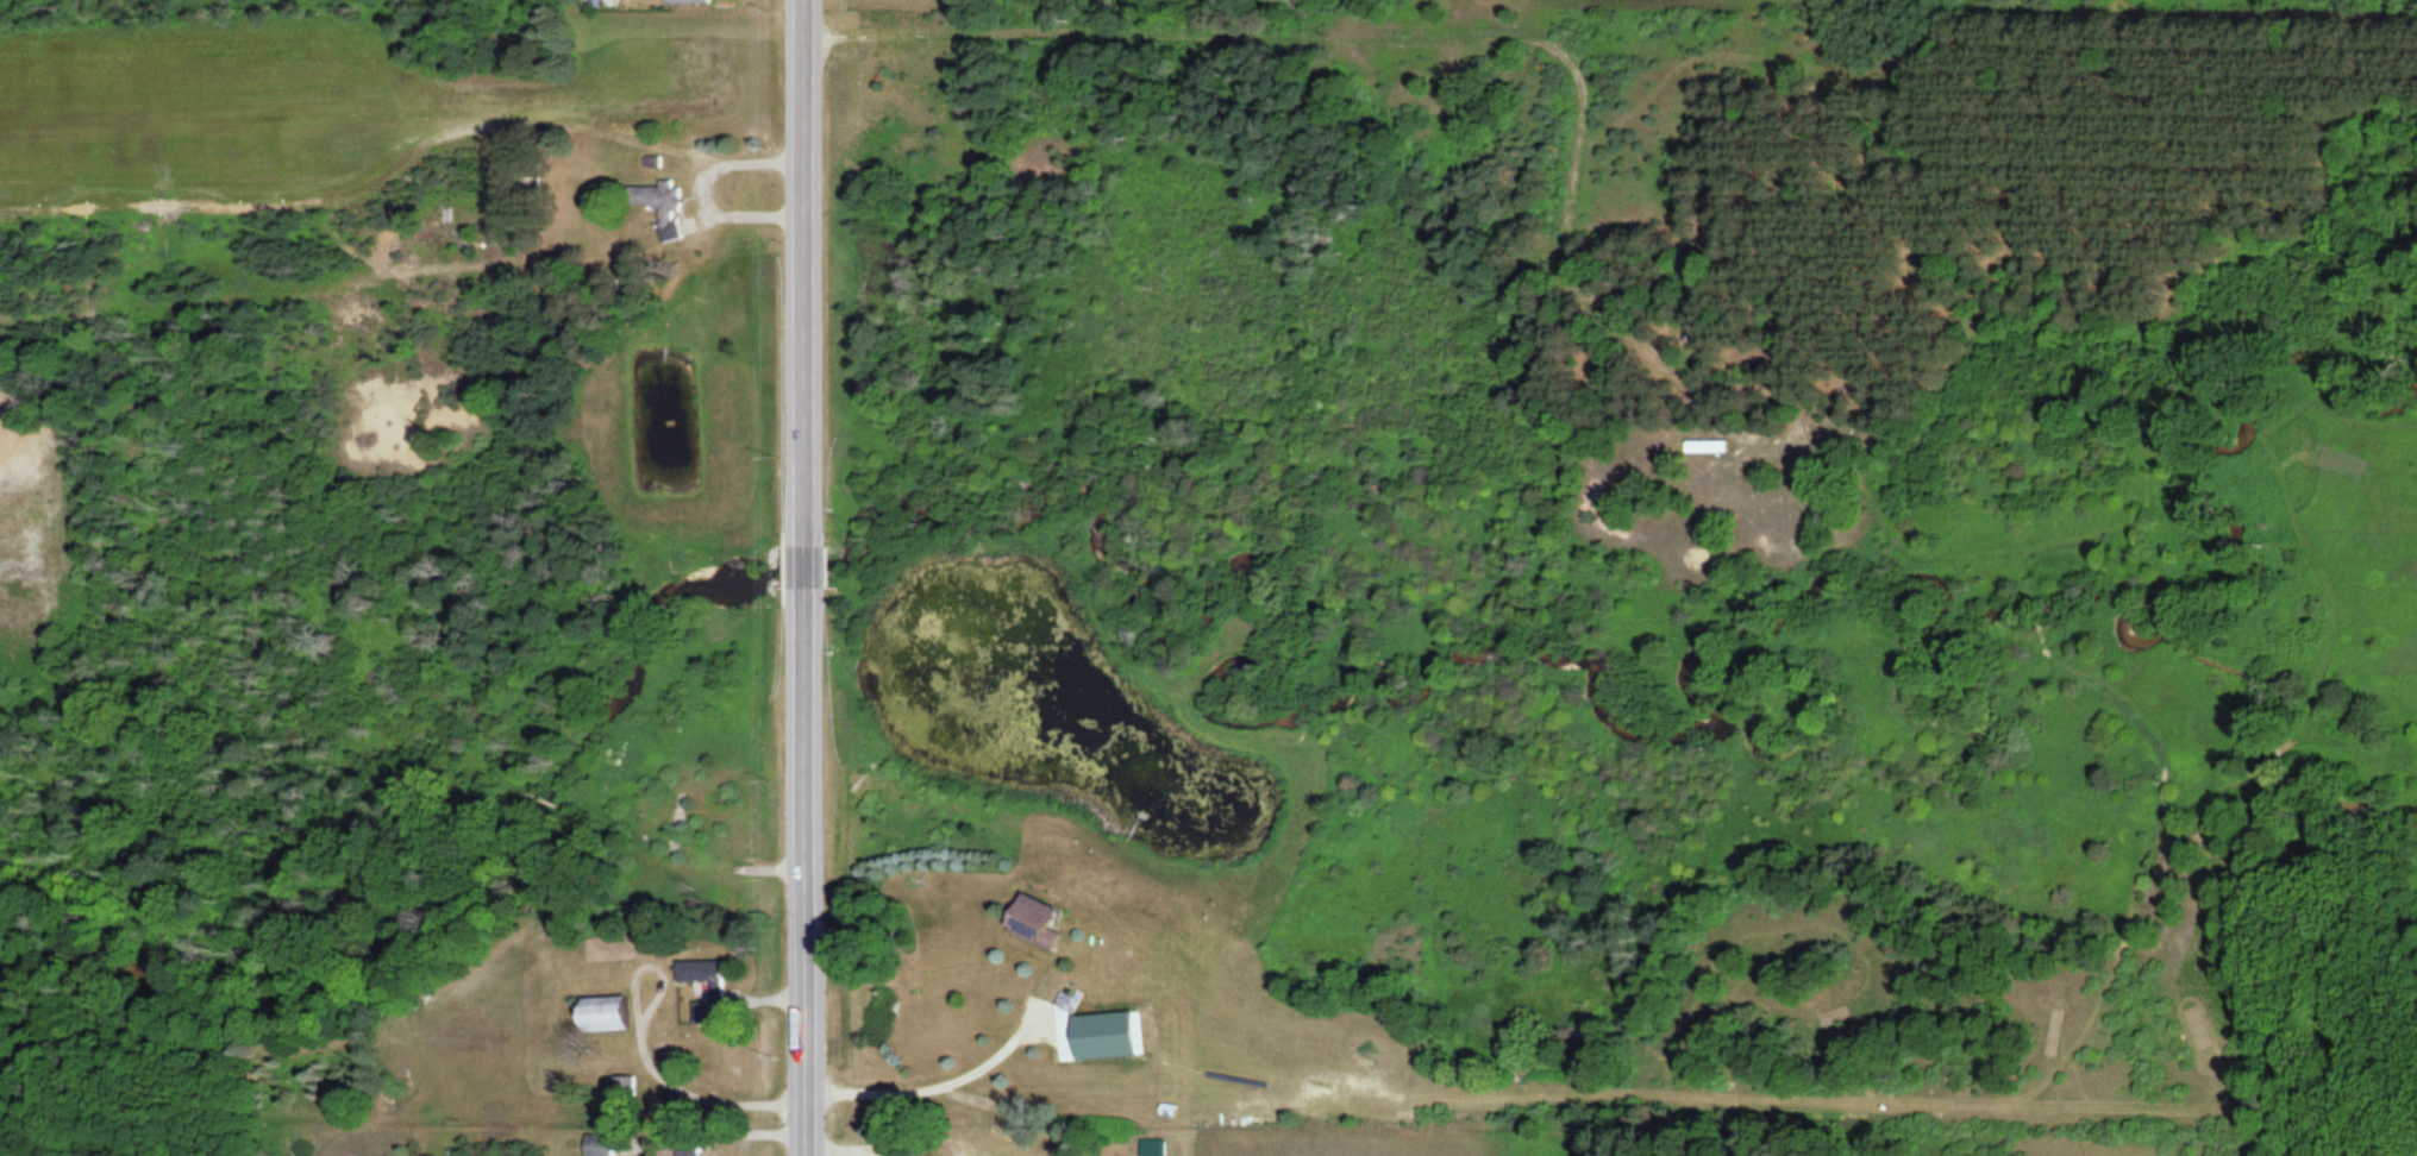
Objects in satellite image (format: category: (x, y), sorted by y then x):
building: (685, 1)
road: (1319, 42)
building: (658, 205)
building: (1704, 447)
road: (804, 578)
building: (1031, 921)
building: (697, 975)
building: (599, 1013)
building: (596, 1144)
building: (684, 1149)

